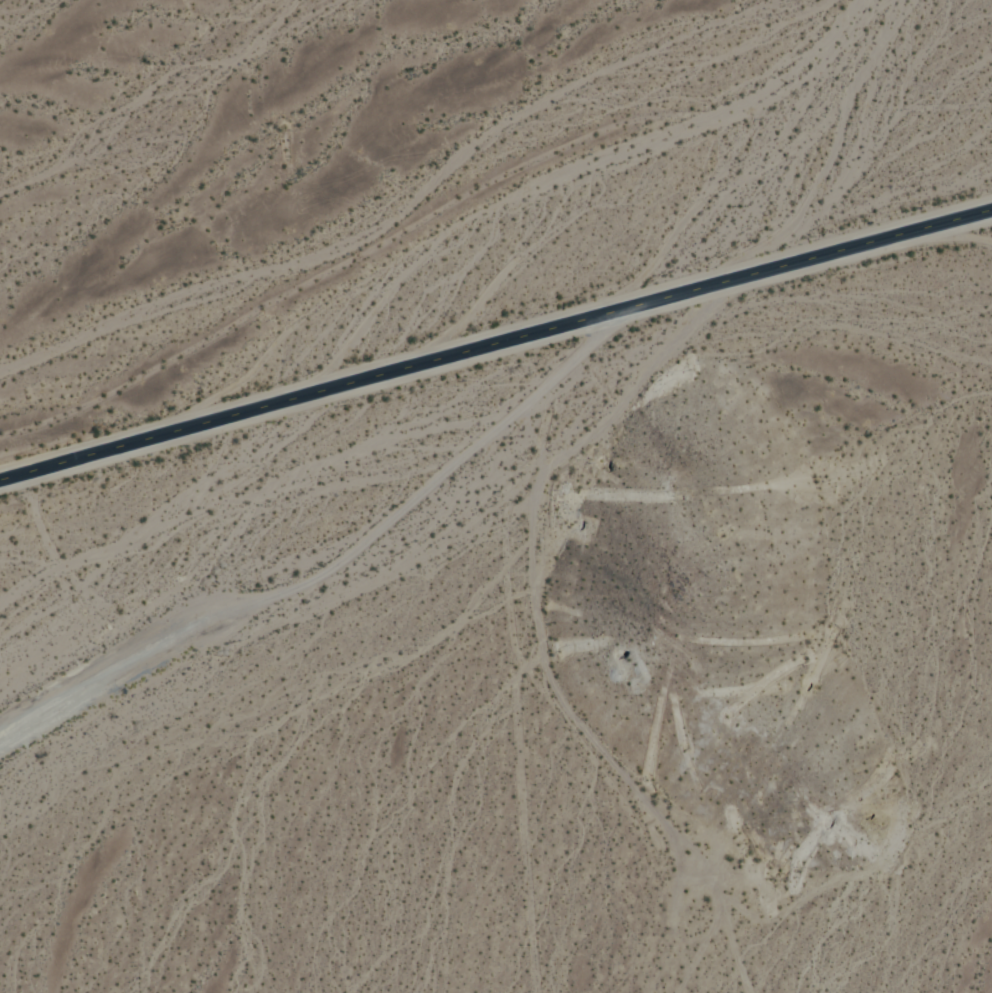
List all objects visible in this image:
road: (495, 341)
road: (447, 479)
road: (548, 628)
quarry: (728, 637)
road: (114, 679)
road: (529, 815)
road: (701, 947)

